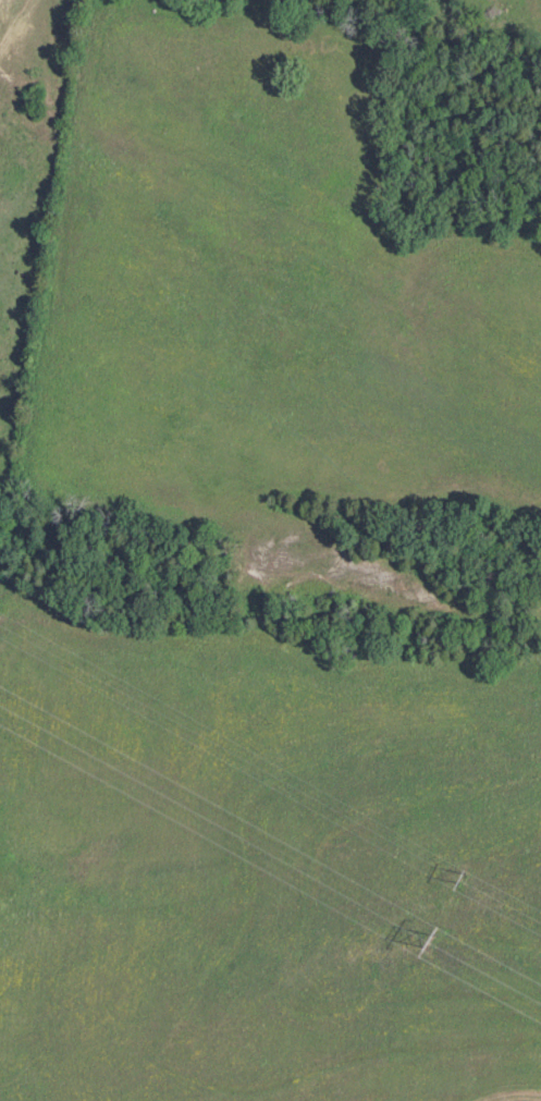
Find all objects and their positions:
power tower: (433, 939)

